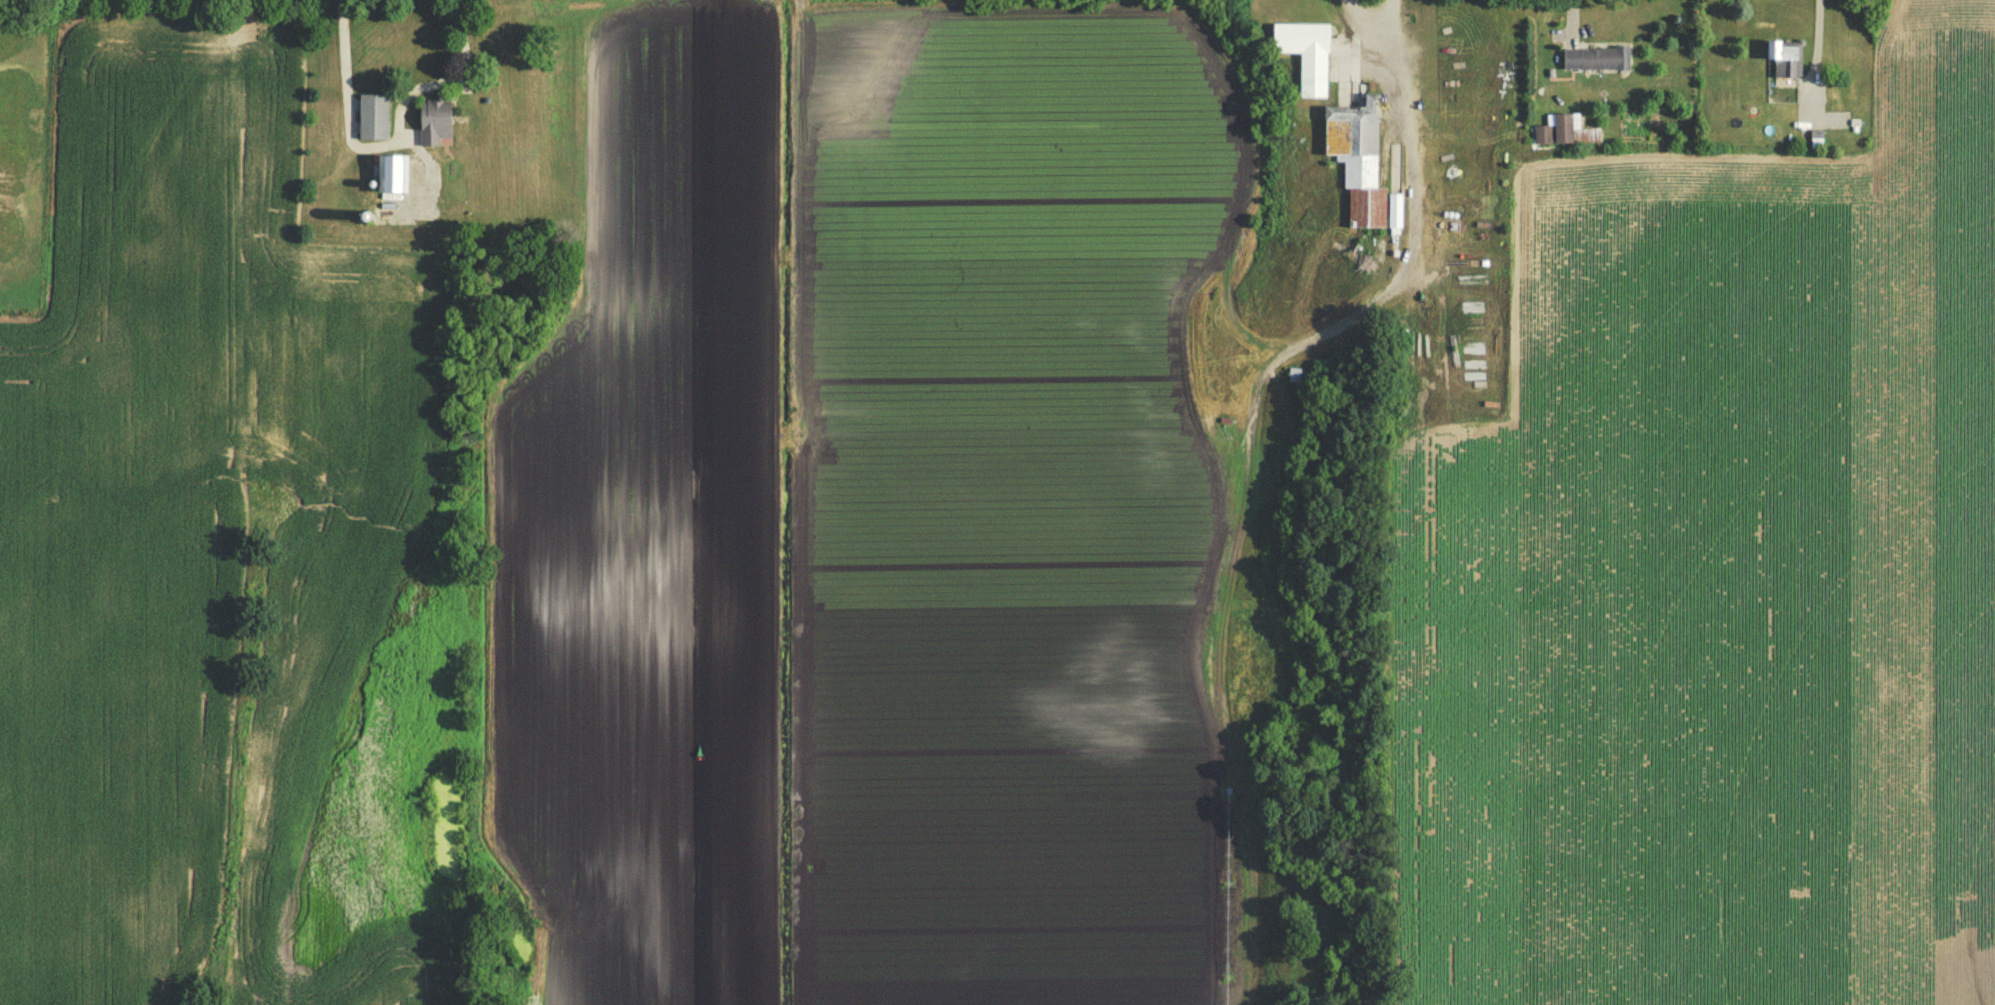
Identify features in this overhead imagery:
road: (1816, 37)
building: (1310, 58)
building: (1598, 63)
building: (1786, 63)
building: (376, 120)
building: (438, 125)
building: (1567, 131)
road: (386, 137)
building: (1545, 138)
building: (1361, 163)
building: (398, 180)

